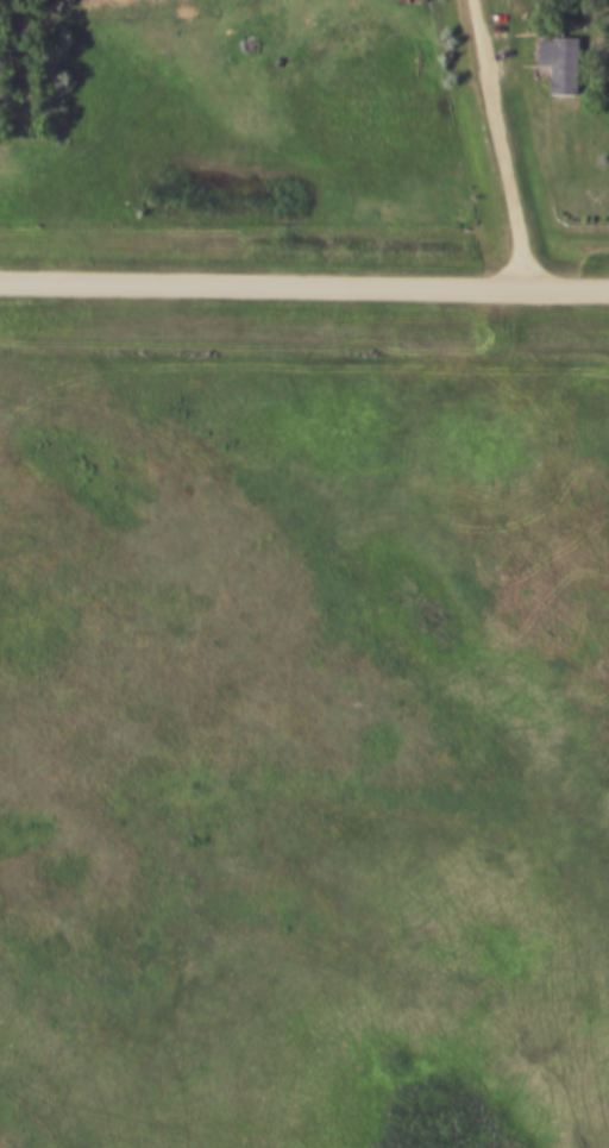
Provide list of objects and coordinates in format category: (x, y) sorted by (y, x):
building: (557, 64)
road: (502, 140)
road: (303, 280)

